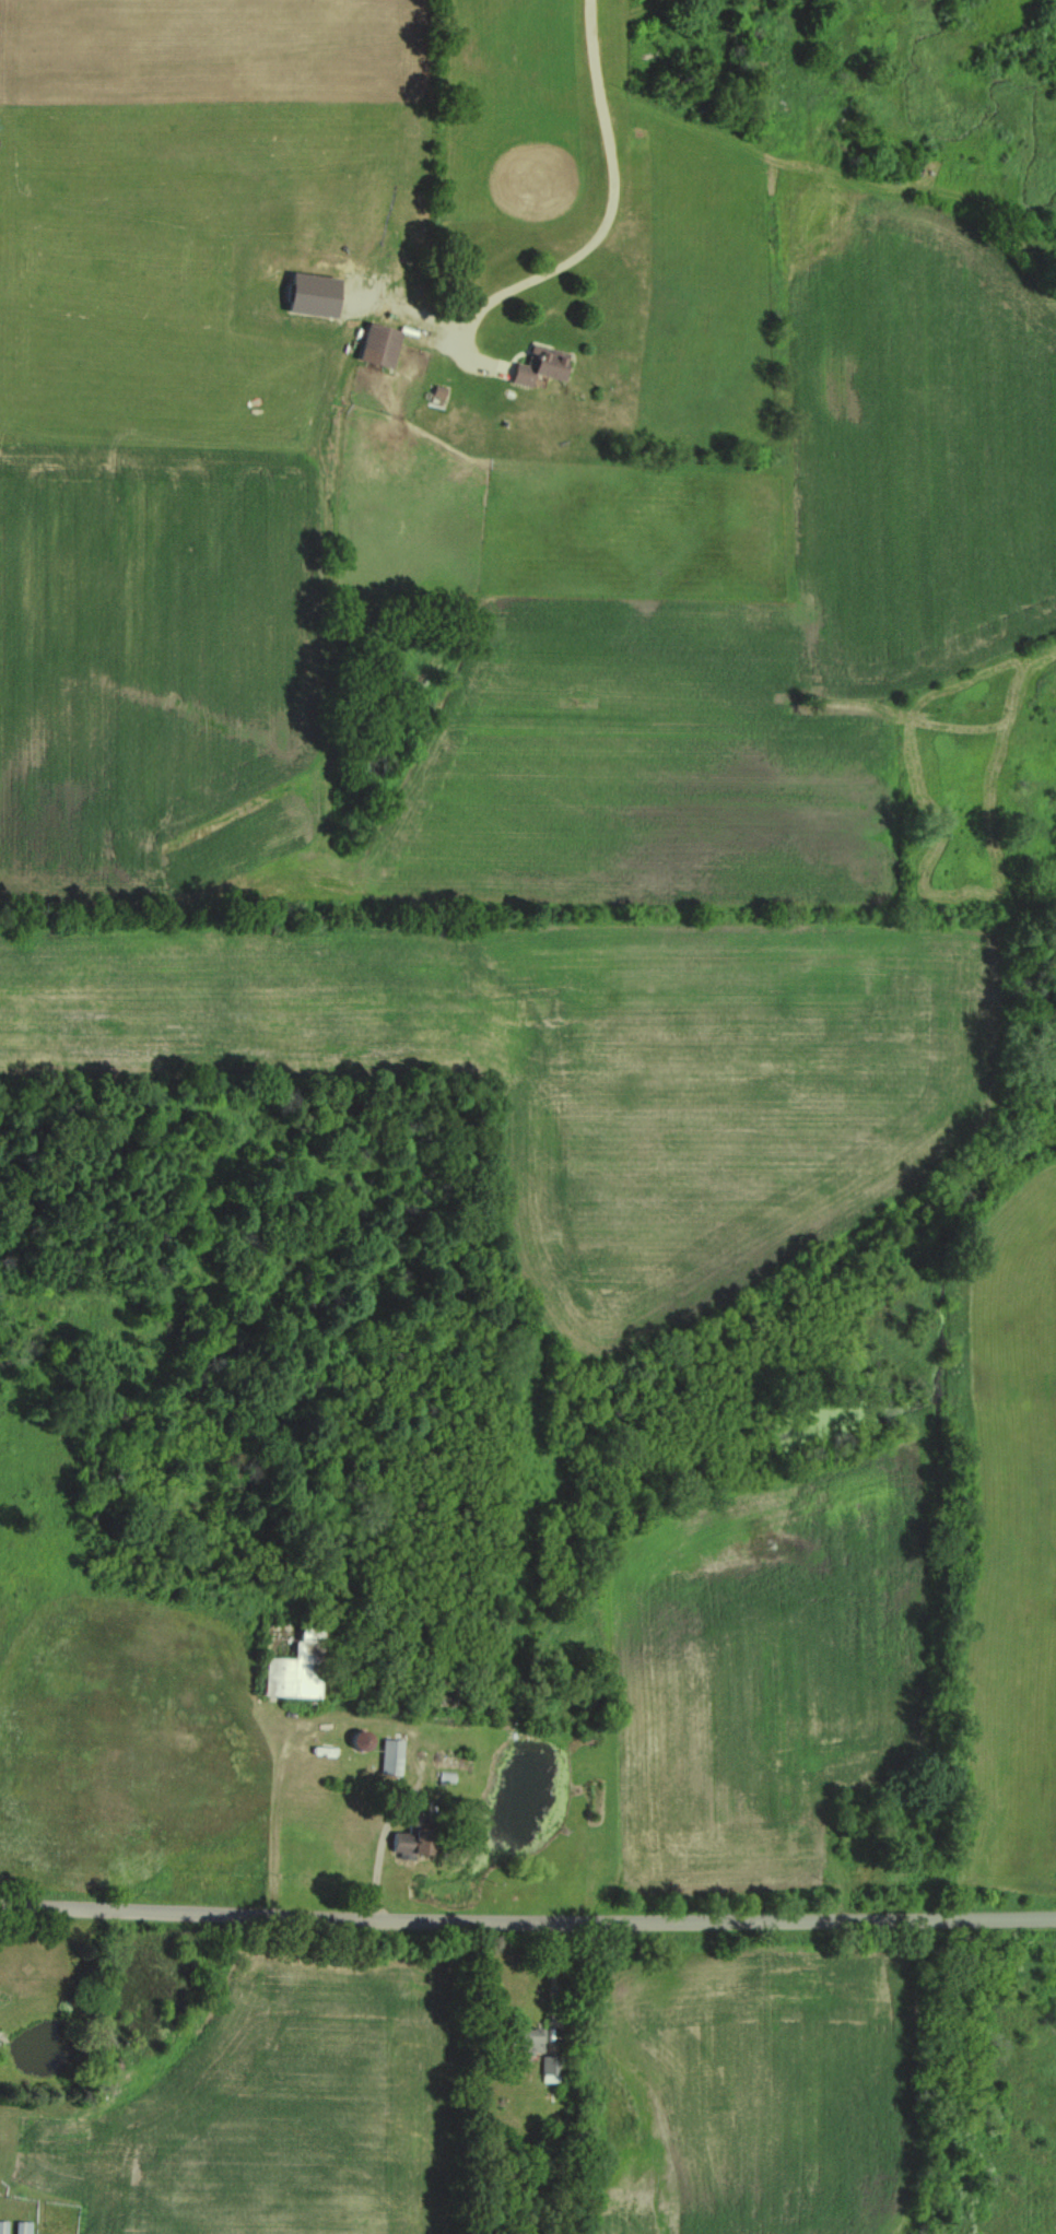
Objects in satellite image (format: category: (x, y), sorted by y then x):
road: (609, 200)
building: (373, 348)
building: (533, 366)
building: (291, 1665)
building: (450, 1756)
building: (386, 1757)
road: (415, 1776)
building: (397, 1843)
road: (527, 1920)
building: (20, 2229)

